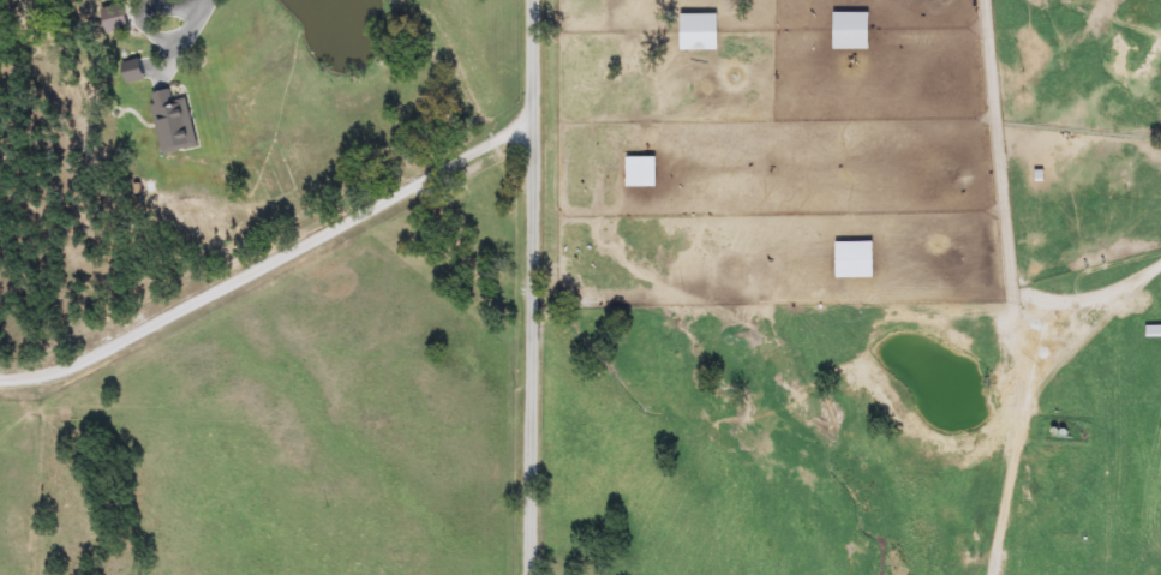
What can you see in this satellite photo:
road: (187, 32)
building: (173, 121)
building: (640, 170)
road: (271, 269)
road: (533, 287)
road: (1021, 384)

